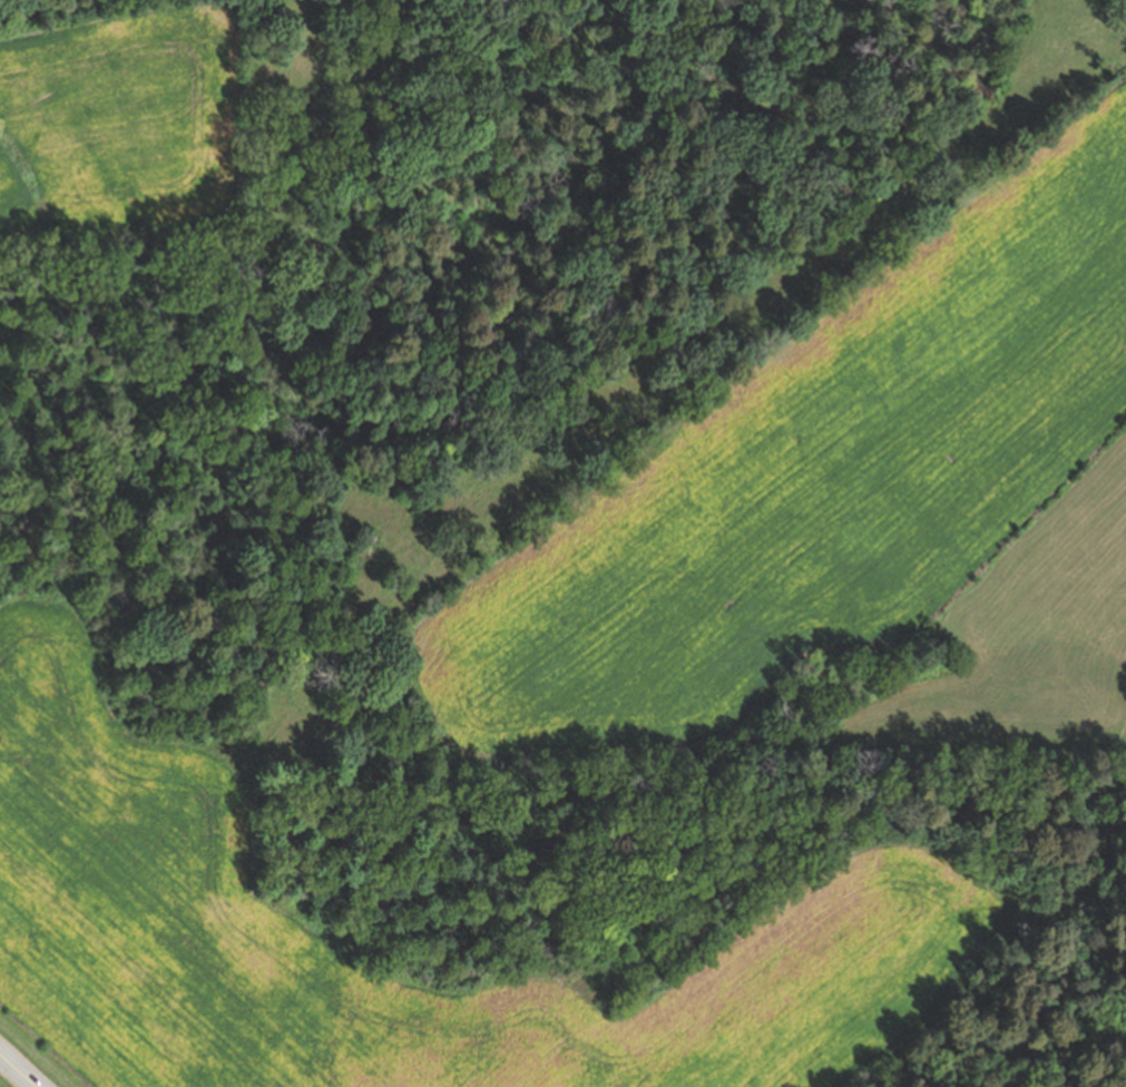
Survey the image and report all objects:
road: (13, 1074)

